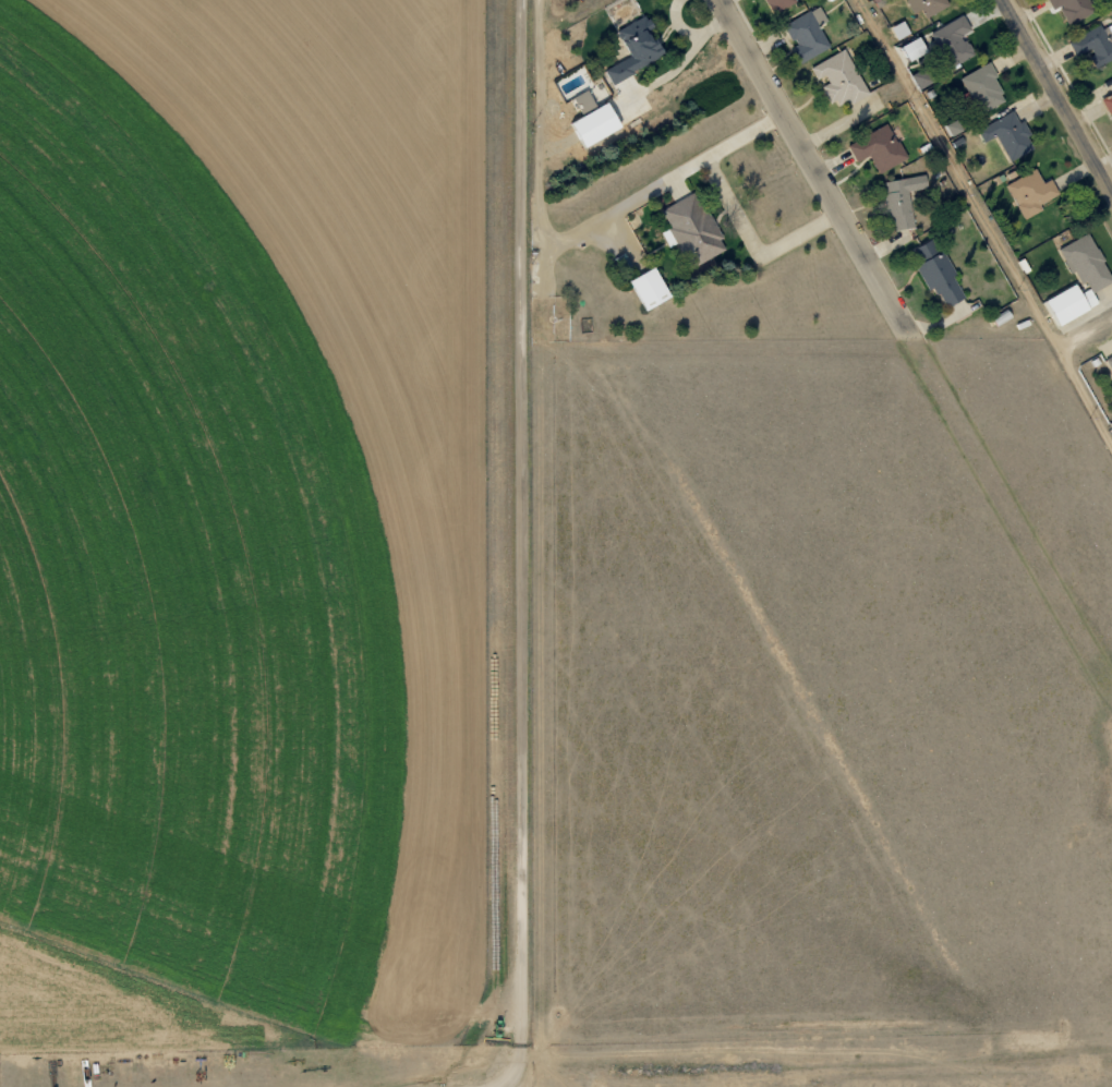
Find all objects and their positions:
building: (778, 4)
building: (929, 5)
building: (1072, 9)
building: (902, 29)
building: (808, 33)
building: (954, 40)
building: (1093, 45)
building: (638, 49)
building: (839, 77)
building: (572, 84)
building: (984, 87)
road: (1060, 93)
building: (1108, 102)
building: (596, 119)
building: (954, 128)
building: (1010, 134)
building: (879, 147)
road: (819, 165)
building: (1032, 192)
building: (903, 198)
road: (988, 219)
building: (697, 231)
building: (1087, 262)
building: (939, 273)
building: (653, 288)
building: (1073, 302)
road: (1087, 335)
building: (1110, 361)

